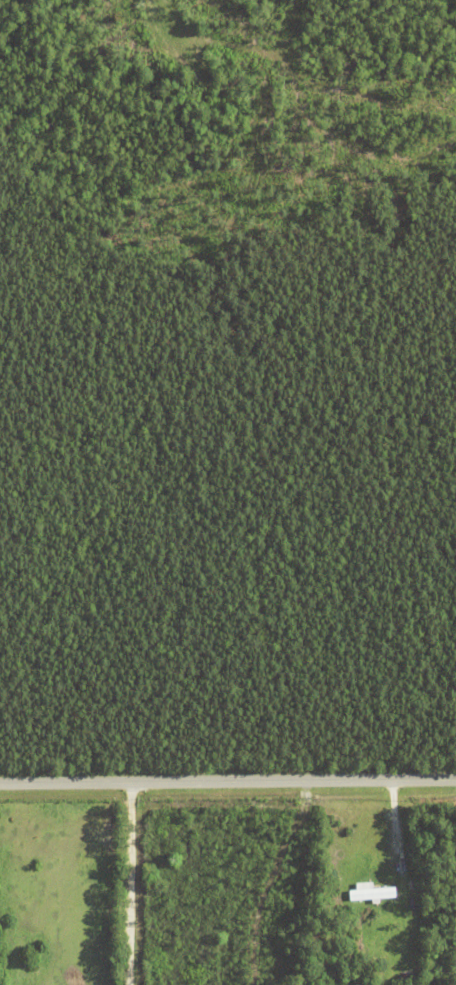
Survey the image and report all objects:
road: (228, 778)
road: (392, 825)
road: (126, 881)
building: (374, 891)
building: (392, 973)
building: (396, 978)

